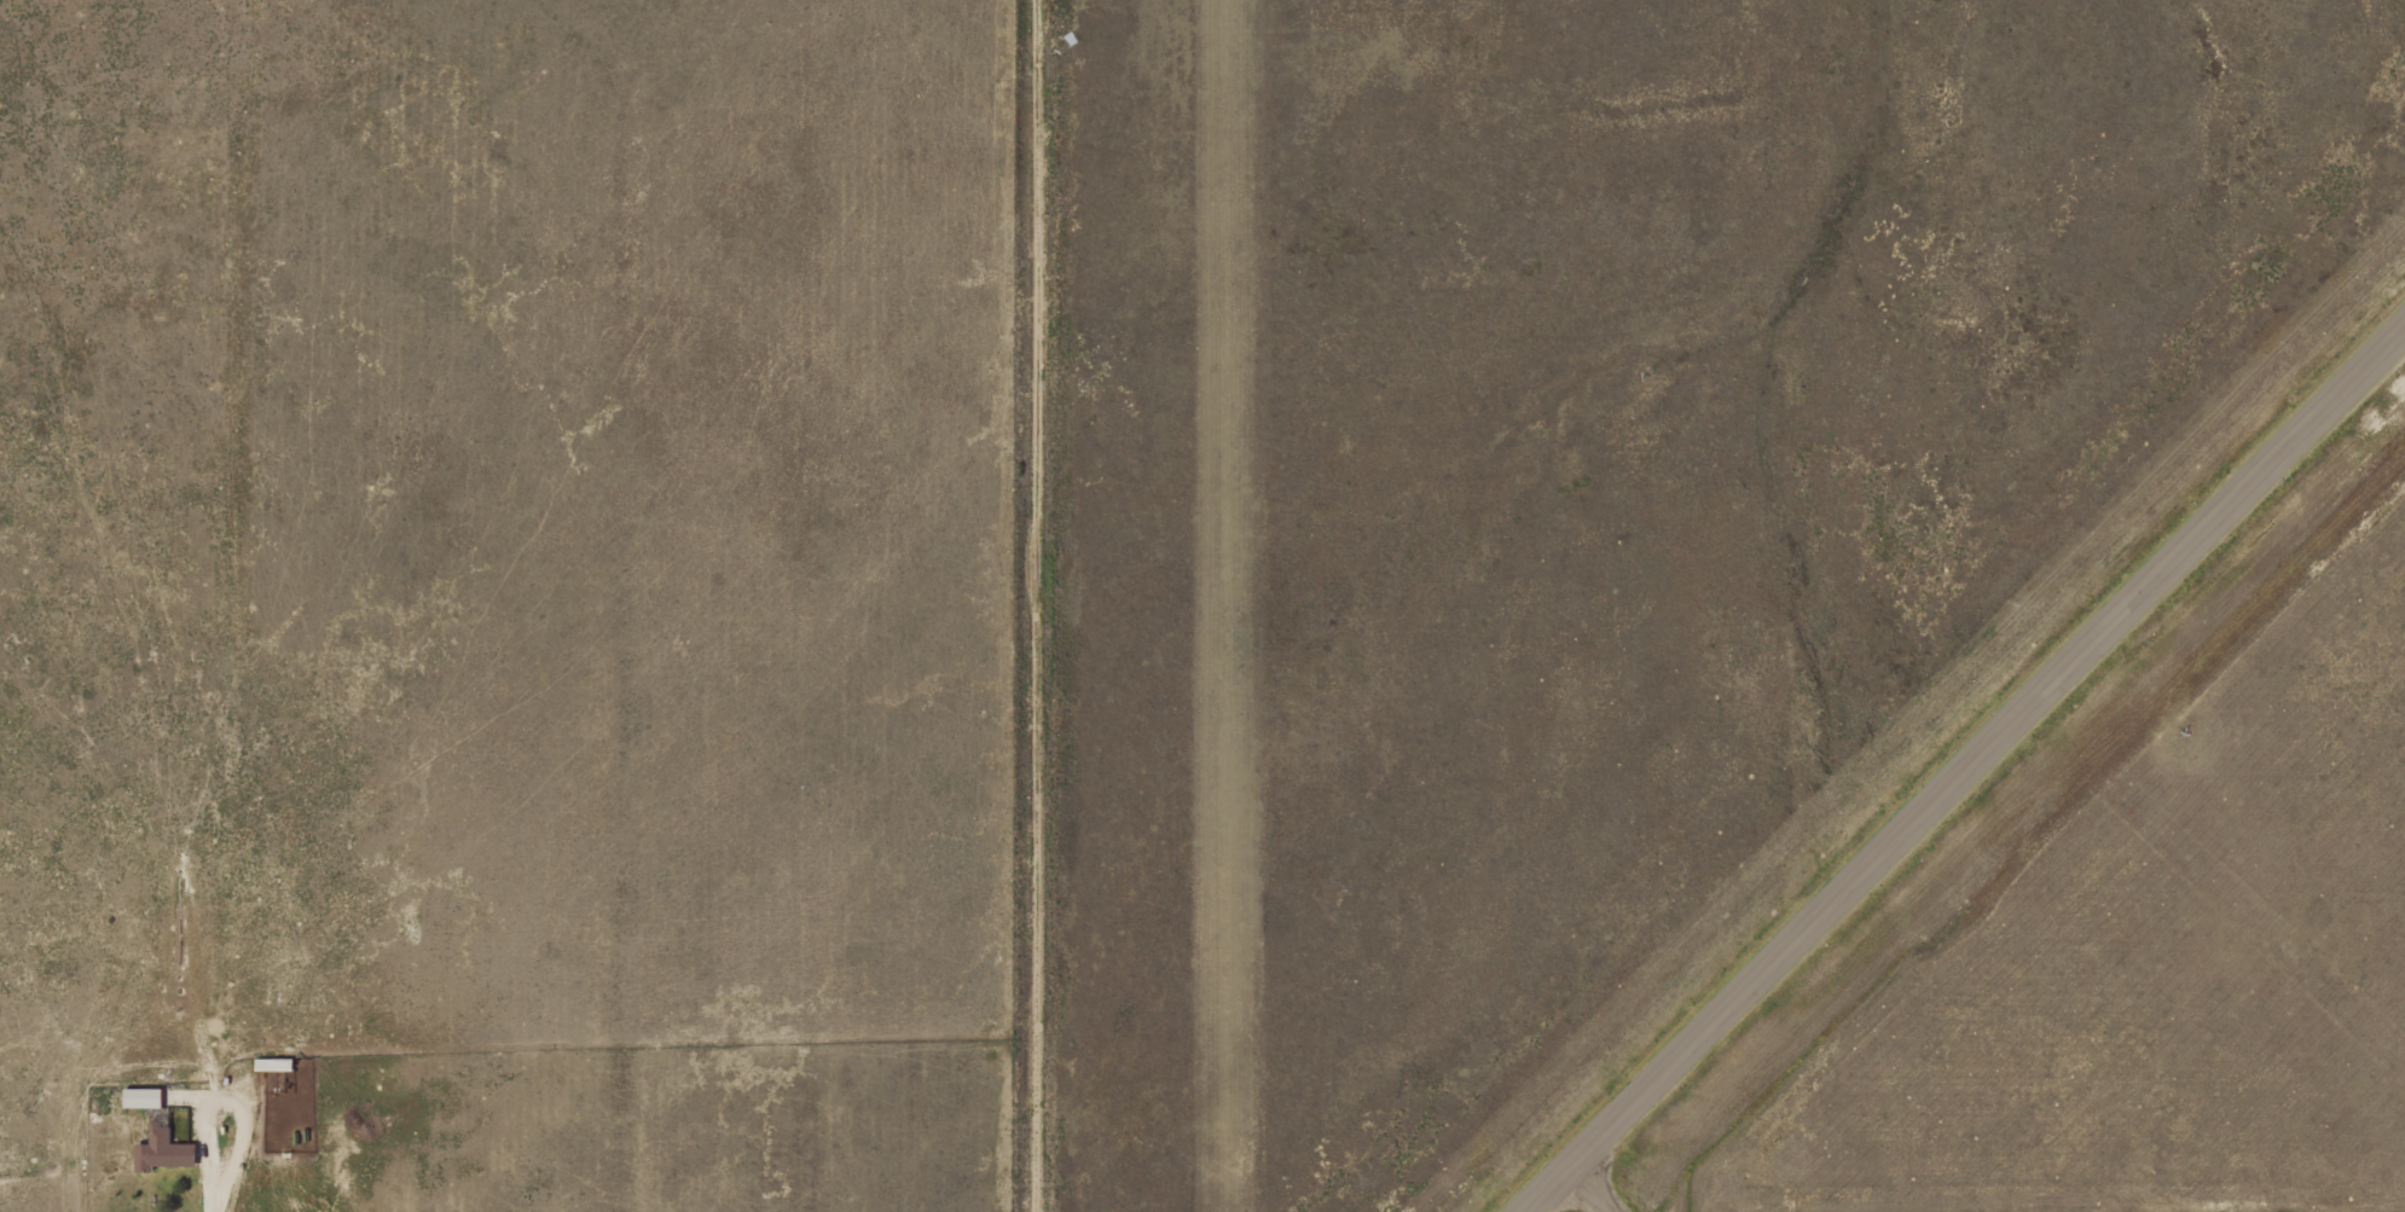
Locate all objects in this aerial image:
road: (1038, 605)
airport runway: (1234, 605)
airport: (1727, 605)
airport runway: (1965, 771)
road: (228, 1110)
building: (164, 1144)
airport taxiway: (1589, 1190)

